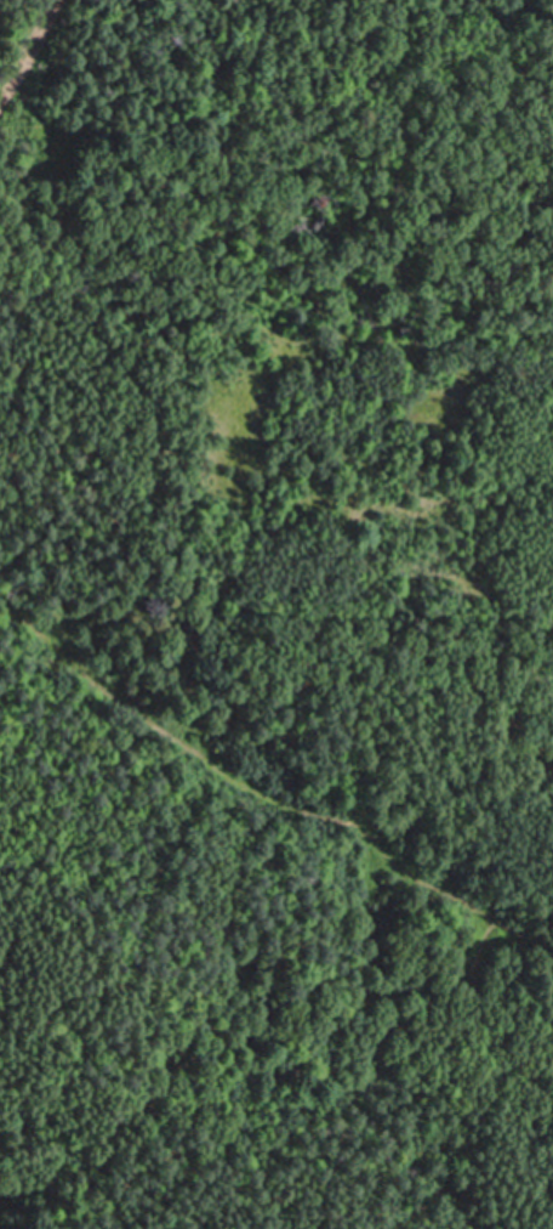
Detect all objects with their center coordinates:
road: (34, 60)

